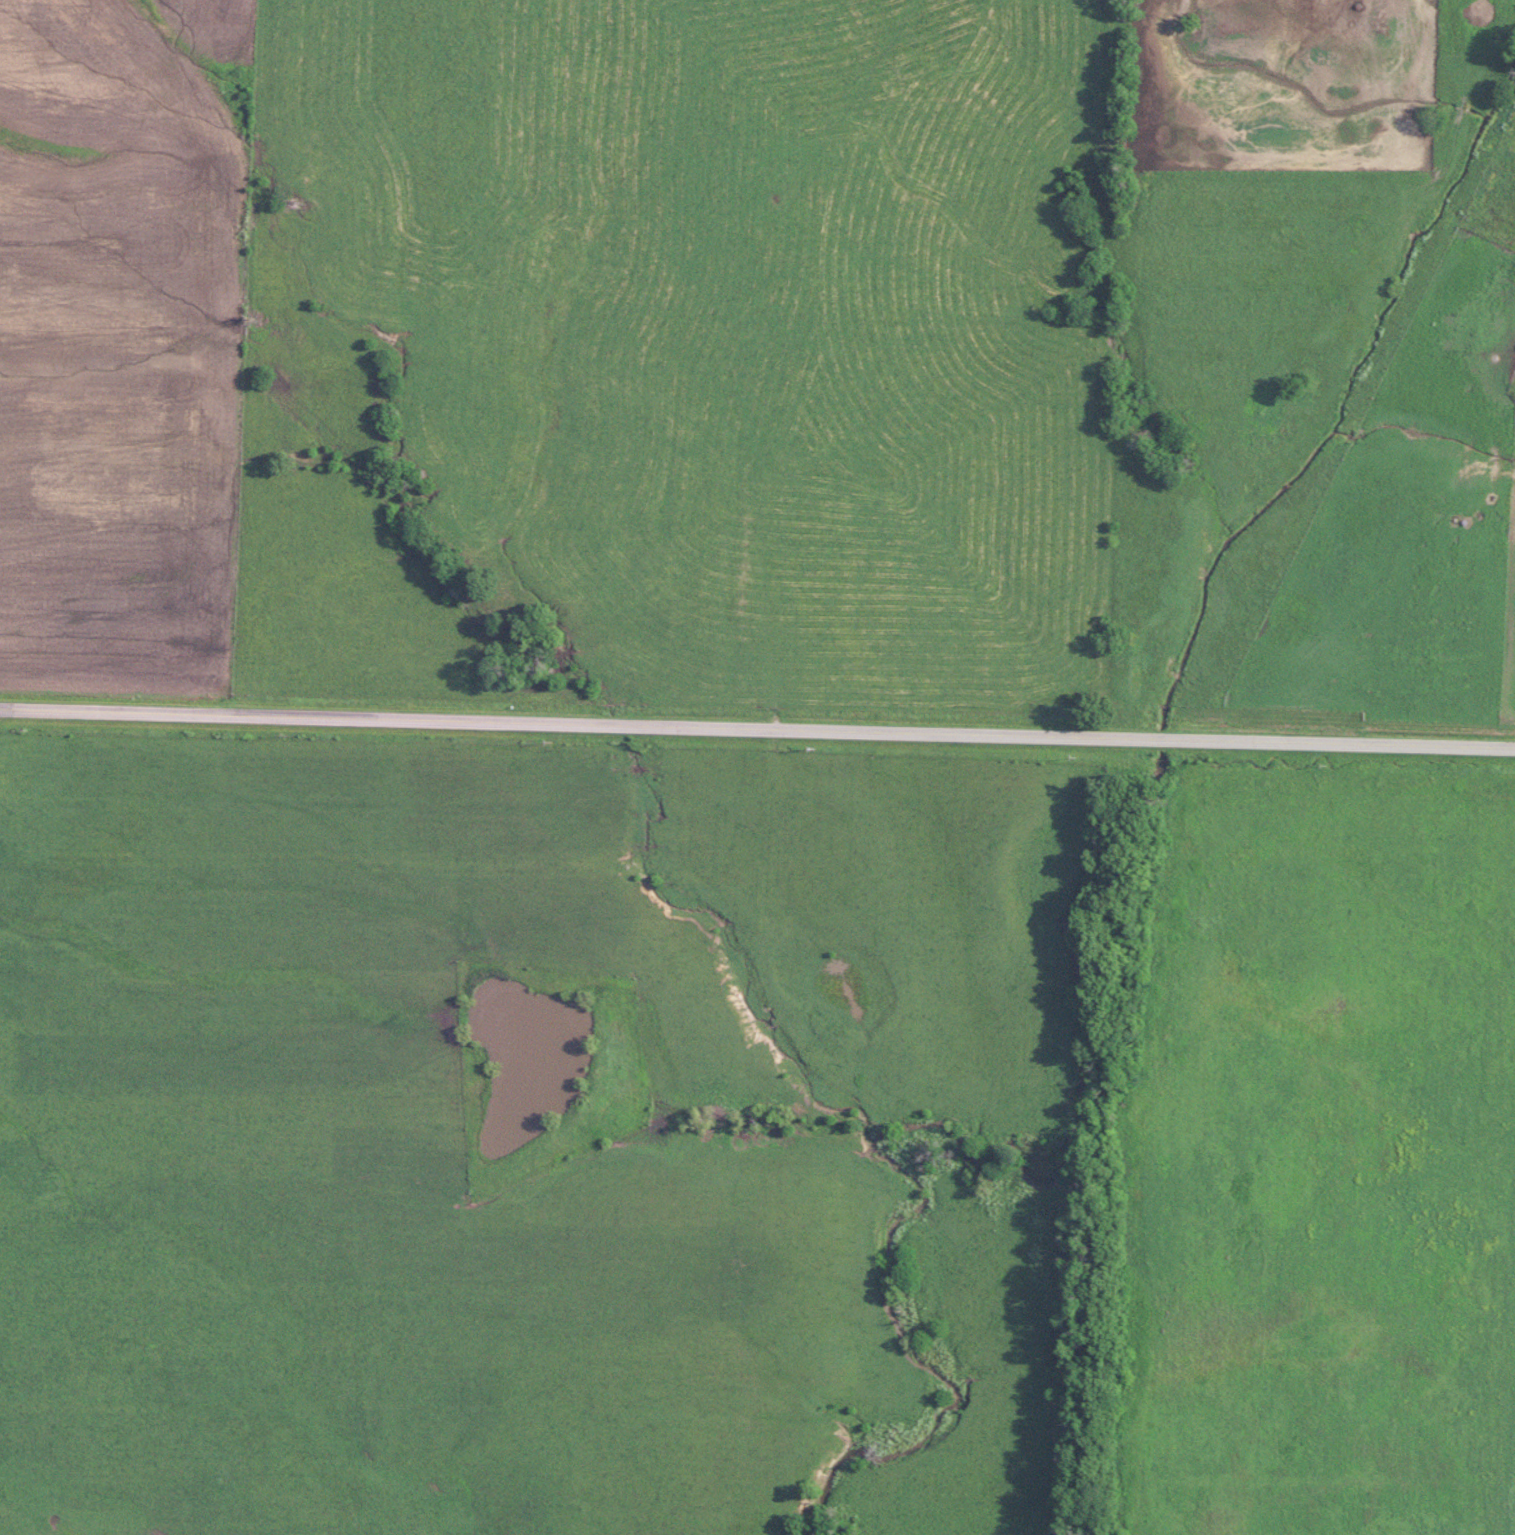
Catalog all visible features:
road: (757, 729)

